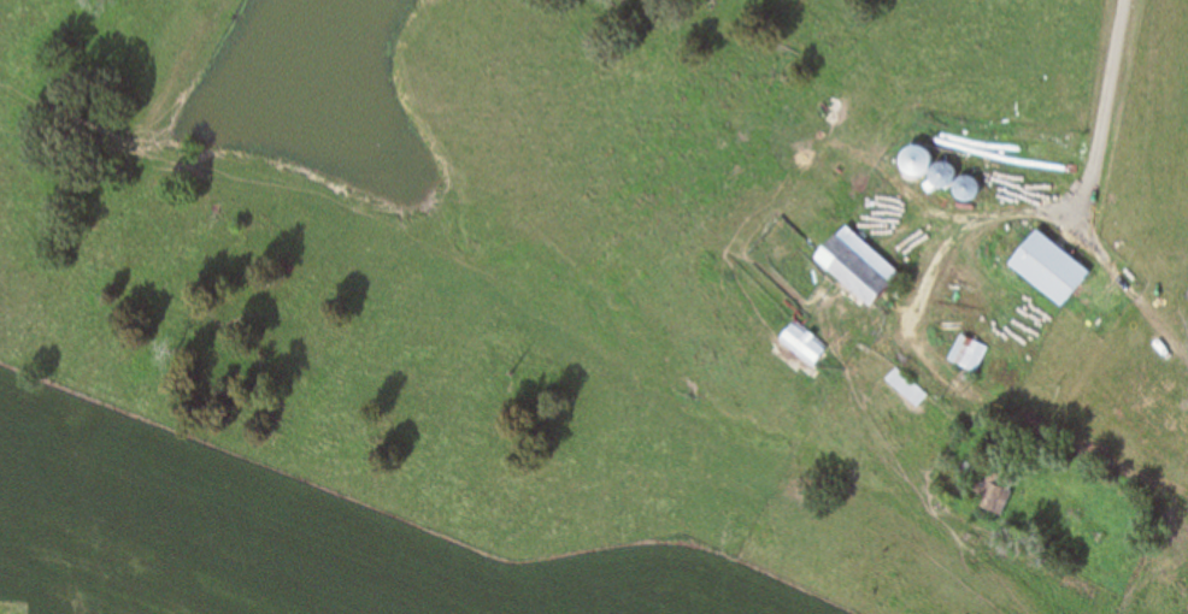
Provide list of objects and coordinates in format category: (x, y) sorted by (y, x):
road: (1100, 113)
building: (860, 268)
building: (1049, 270)
building: (804, 346)
building: (966, 355)
building: (905, 389)
building: (992, 494)

